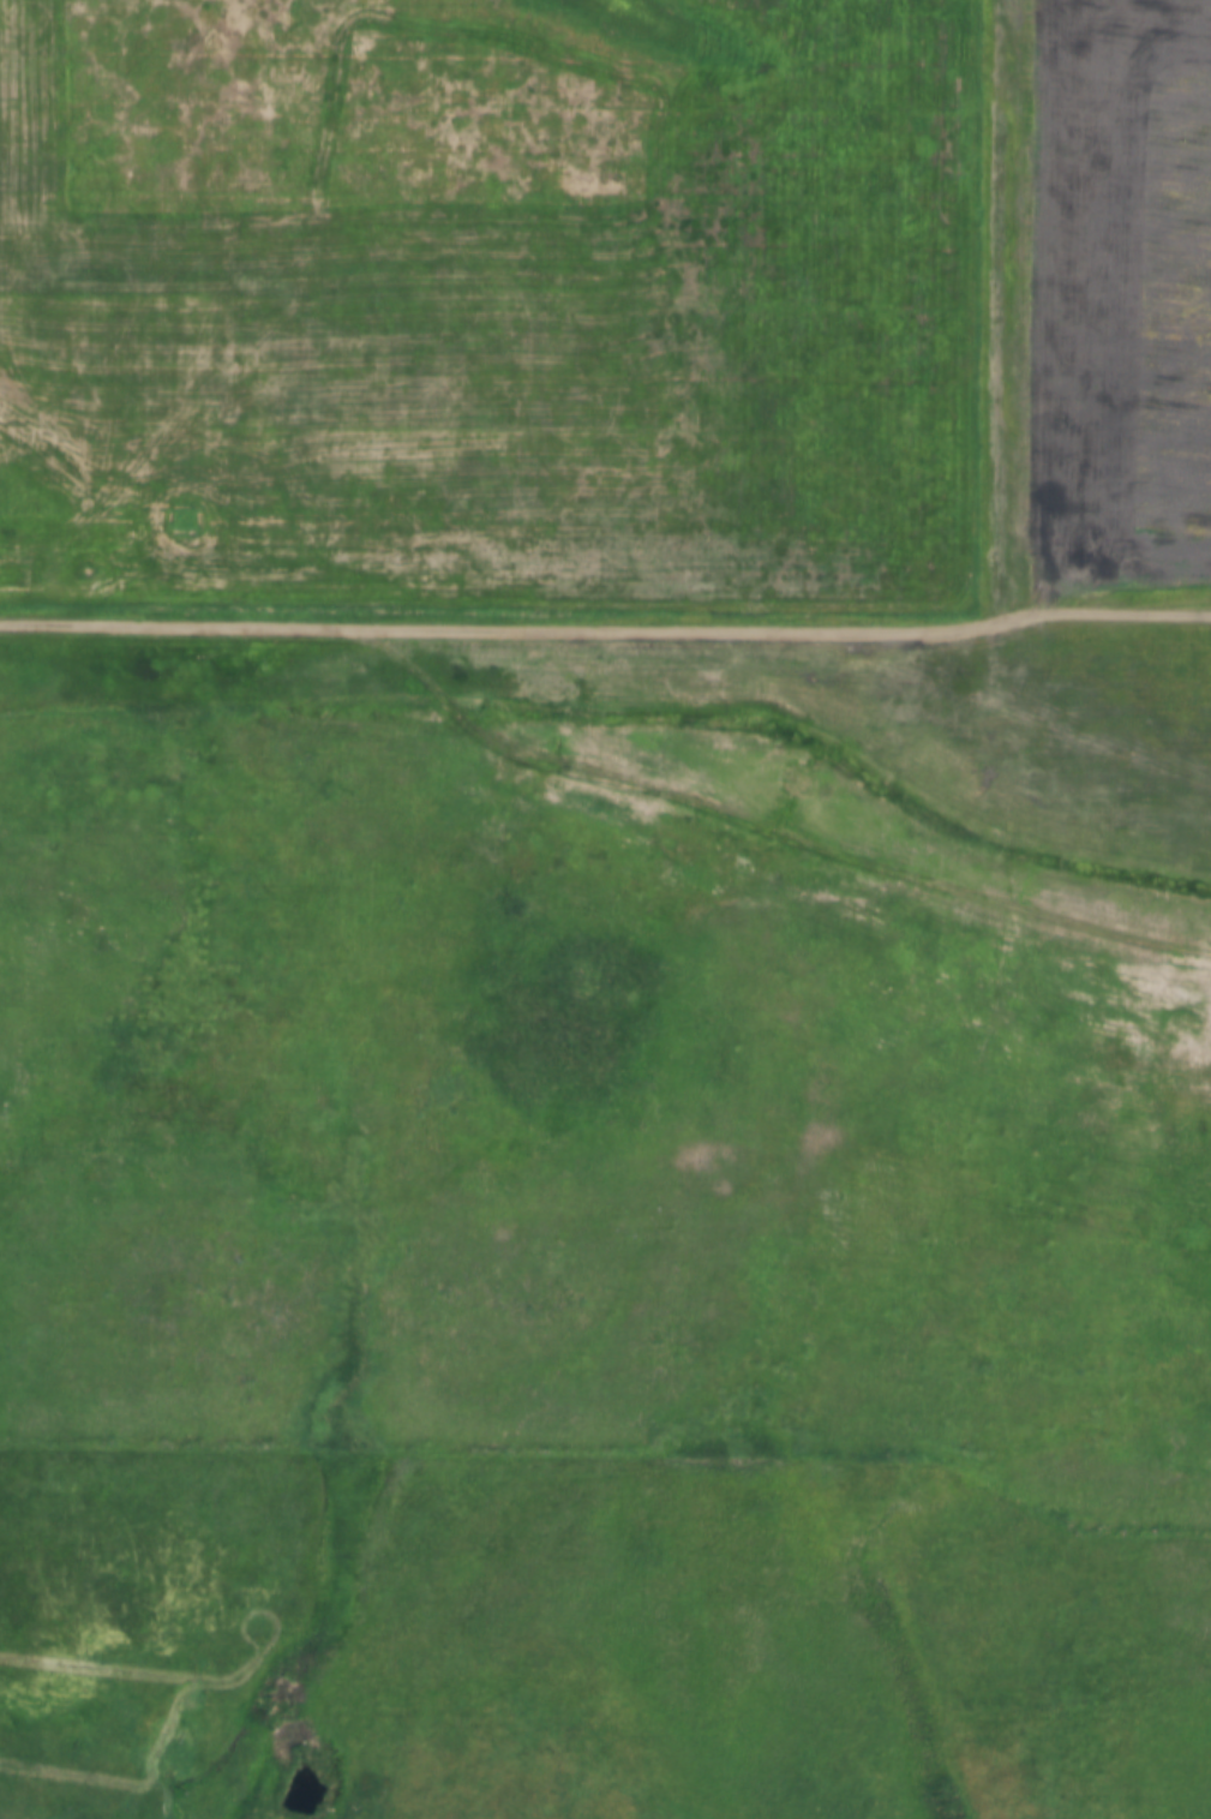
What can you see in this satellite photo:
road: (984, 311)
road: (767, 630)
road: (598, 770)

